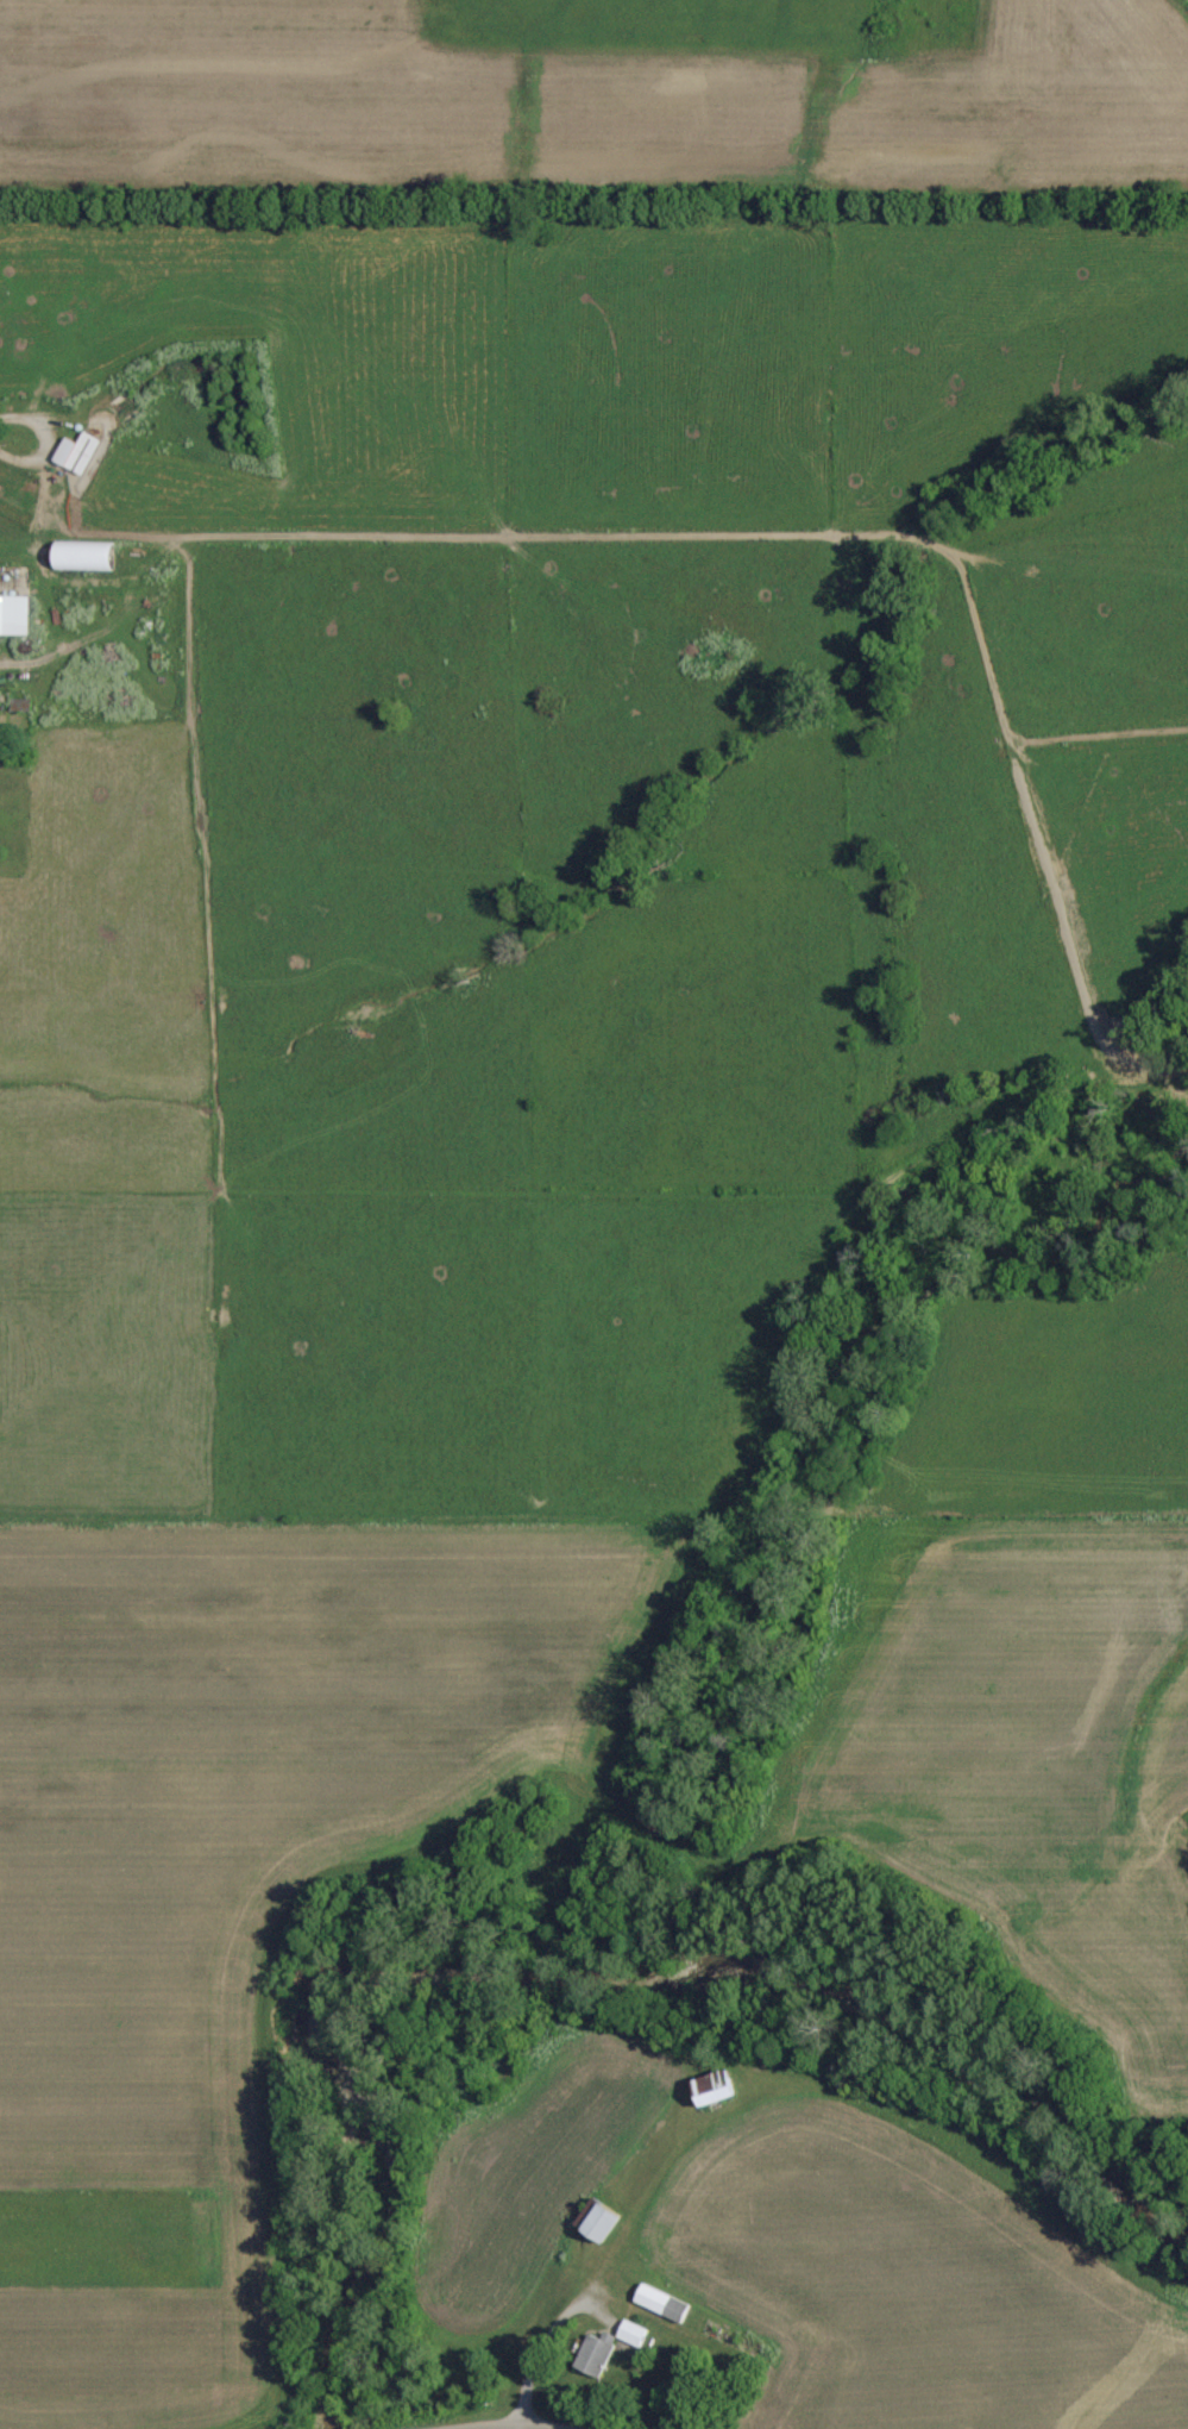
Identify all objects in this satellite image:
road: (44, 437)
building: (78, 453)
building: (84, 557)
building: (14, 616)
building: (716, 2089)
building: (604, 2223)
building: (664, 2304)
building: (634, 2334)
building: (597, 2356)
road: (624, 2390)
road: (2, 2427)

